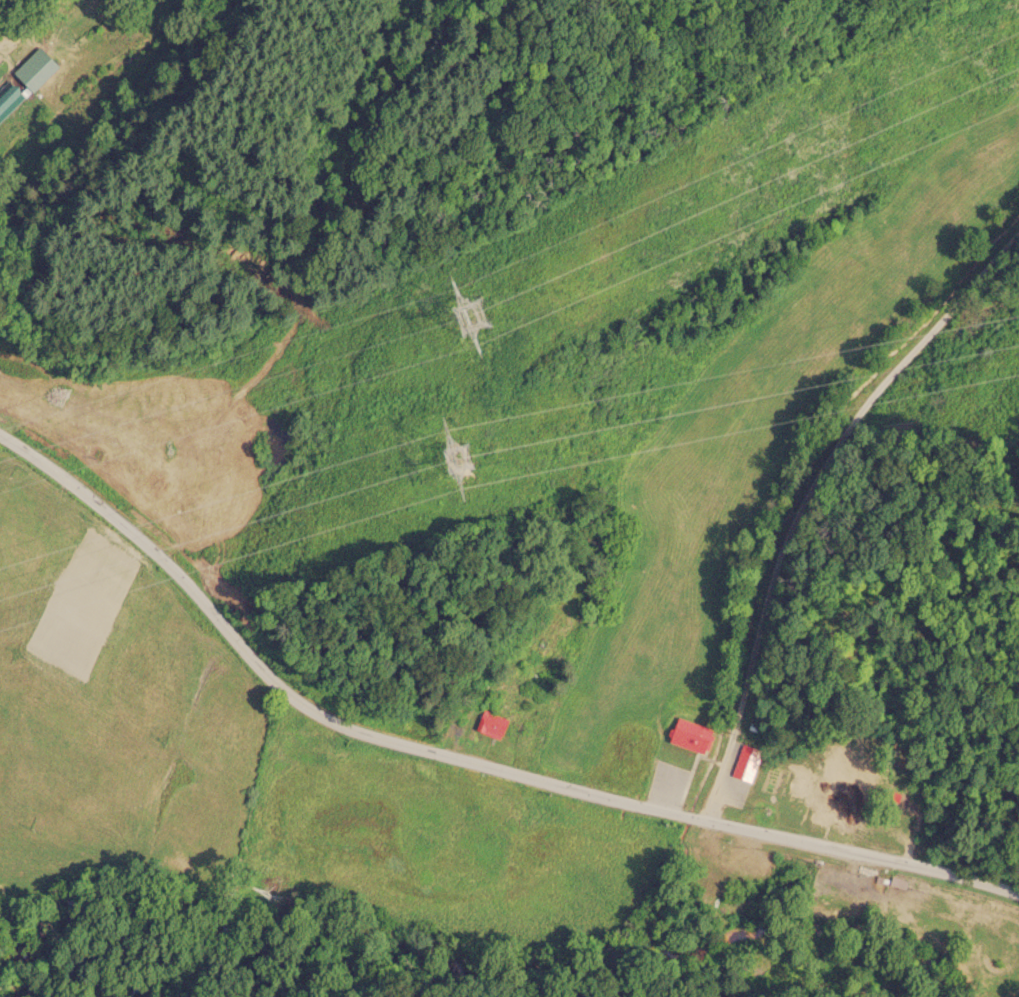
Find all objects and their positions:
power tower: (473, 323)
power tower: (472, 463)
road: (800, 489)
road: (307, 705)
building: (694, 733)
building: (748, 761)
building: (841, 794)
road: (861, 852)

